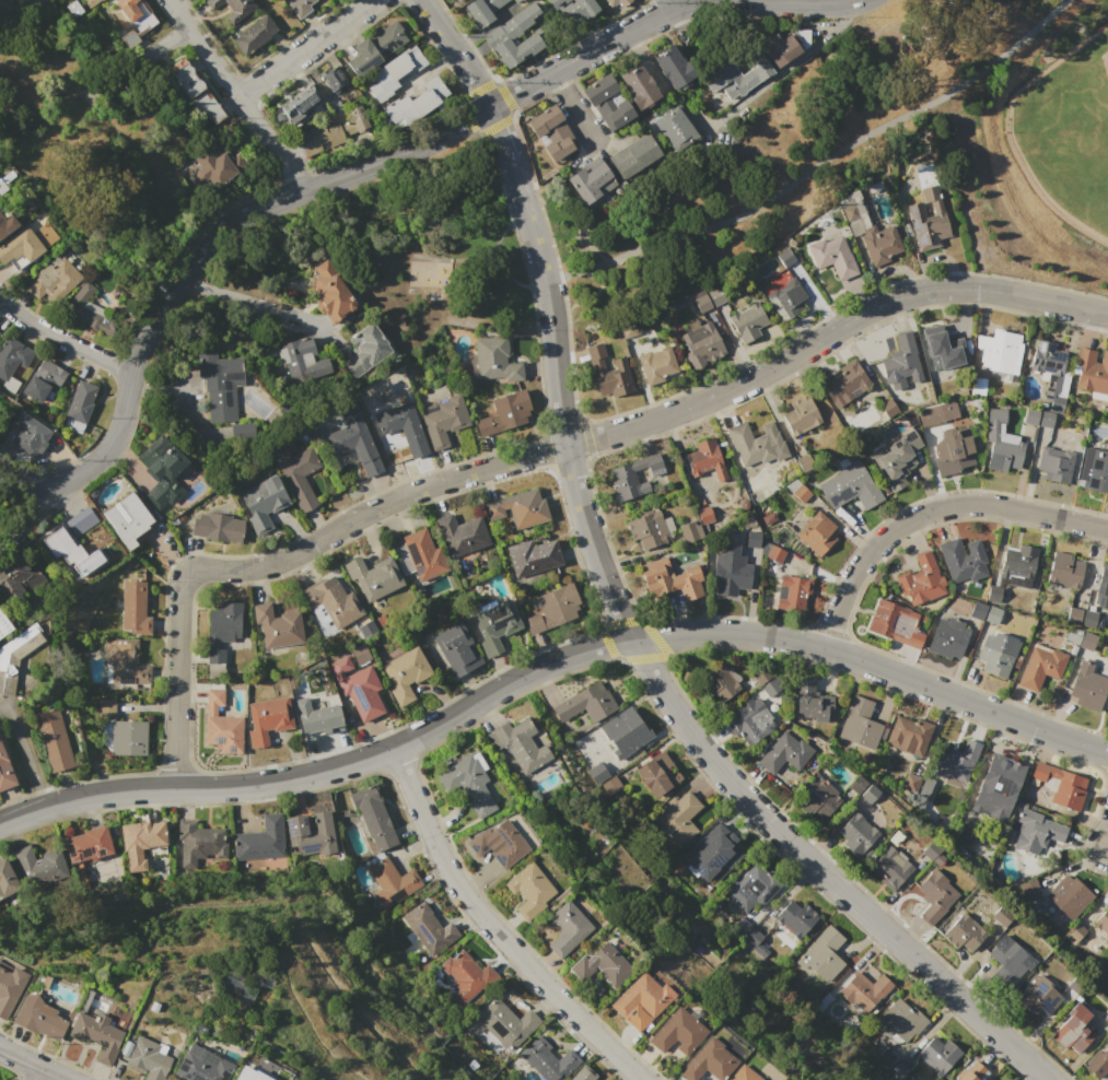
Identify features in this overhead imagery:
building: (454, 0)
building: (458, 0)
building: (516, 0)
building: (36, 1)
building: (91, 2)
building: (616, 2)
road: (673, 4)
building: (300, 7)
building: (232, 8)
building: (73, 9)
building: (574, 9)
building: (482, 10)
road: (663, 14)
building: (135, 19)
building: (500, 34)
building: (254, 35)
road: (305, 48)
building: (374, 48)
road: (455, 51)
road: (137, 61)
road: (50, 64)
road: (790, 64)
building: (765, 67)
building: (673, 68)
building: (394, 72)
building: (333, 77)
building: (186, 78)
building: (639, 85)
road: (235, 95)
building: (607, 102)
building: (300, 103)
building: (419, 103)
building: (207, 106)
road: (573, 110)
park: (736, 117)
building: (676, 128)
building: (552, 131)
building: (333, 132)
park: (1065, 134)
park: (93, 148)
road: (506, 152)
building: (633, 154)
building: (219, 165)
road: (824, 169)
building: (5, 180)
building: (592, 183)
building: (921, 186)
building: (5, 222)
building: (868, 226)
building: (26, 243)
park: (439, 244)
road: (194, 255)
building: (832, 256)
building: (785, 257)
building: (55, 281)
building: (331, 291)
building: (715, 296)
building: (785, 298)
building: (701, 301)
road: (258, 302)
building: (85, 310)
building: (747, 322)
building: (0, 333)
road: (62, 340)
building: (701, 343)
building: (365, 348)
building: (941, 348)
building: (1000, 353)
building: (495, 359)
building: (12, 360)
building: (900, 363)
building: (303, 364)
building: (656, 364)
building: (1051, 372)
building: (607, 373)
building: (1090, 374)
building: (44, 380)
building: (219, 383)
building: (844, 384)
building: (978, 387)
building: (80, 406)
building: (886, 408)
building: (936, 412)
building: (504, 413)
building: (801, 414)
building: (1030, 415)
building: (1047, 419)
building: (442, 420)
road: (651, 420)
building: (404, 426)
building: (243, 432)
building: (28, 436)
building: (355, 443)
building: (756, 443)
building: (1000, 443)
building: (953, 450)
building: (704, 459)
building: (898, 459)
building: (805, 462)
building: (1054, 463)
building: (1094, 471)
building: (161, 472)
building: (296, 474)
building: (632, 477)
building: (850, 485)
building: (798, 490)
road: (48, 503)
building: (263, 503)
building: (517, 509)
road: (930, 510)
building: (703, 514)
building: (127, 519)
building: (82, 520)
building: (218, 527)
building: (648, 529)
building: (689, 531)
building: (817, 532)
building: (460, 533)
building: (751, 539)
building: (58, 542)
building: (773, 552)
building: (422, 553)
building: (532, 553)
building: (961, 557)
building: (1018, 561)
building: (1065, 568)
building: (374, 573)
building: (15, 576)
building: (731, 577)
building: (668, 578)
building: (920, 580)
building: (1103, 586)
building: (792, 591)
building: (992, 592)
building: (329, 600)
building: (135, 603)
building: (558, 604)
building: (976, 610)
building: (992, 613)
building: (1073, 613)
building: (884, 617)
building: (1087, 619)
building: (223, 621)
building: (3, 622)
building: (532, 622)
building: (276, 623)
building: (497, 626)
building: (365, 627)
building: (1071, 635)
building: (915, 637)
building: (946, 638)
building: (1087, 641)
building: (20, 642)
building: (455, 647)
building: (358, 653)
building: (214, 655)
building: (993, 657)
building: (121, 660)
road: (550, 660)
building: (213, 669)
building: (1041, 669)
building: (407, 673)
road: (176, 677)
building: (718, 682)
building: (1087, 685)
building: (769, 686)
building: (363, 693)
building: (212, 695)
building: (813, 700)
road: (672, 703)
building: (105, 705)
building: (581, 706)
building: (316, 712)
building: (269, 720)
building: (862, 720)
building: (747, 726)
building: (627, 731)
building: (222, 732)
building: (907, 732)
building: (127, 737)
building: (53, 738)
building: (522, 744)
road: (25, 749)
building: (783, 755)
building: (954, 758)
building: (600, 768)
building: (1037, 770)
building: (4, 772)
building: (656, 773)
building: (610, 782)
building: (910, 782)
building: (854, 786)
building: (995, 786)
building: (466, 789)
building: (1068, 790)
building: (868, 794)
building: (818, 799)
building: (678, 815)
building: (371, 818)
building: (854, 833)
building: (1037, 833)
building: (308, 834)
building: (963, 835)
building: (256, 837)
road: (1104, 838)
building: (198, 841)
building: (506, 841)
building: (86, 842)
building: (142, 842)
building: (477, 843)
building: (930, 850)
building: (719, 852)
building: (36, 860)
building: (273, 861)
building: (679, 861)
building: (889, 867)
building: (5, 879)
building: (395, 879)
building: (750, 884)
building: (1028, 888)
building: (526, 892)
building: (935, 895)
building: (1068, 895)
building: (793, 915)
building: (1001, 916)
building: (1103, 921)
building: (565, 928)
road: (491, 929)
building: (429, 930)
building: (1076, 930)
building: (963, 934)
building: (821, 958)
building: (1007, 962)
building: (599, 965)
building: (467, 976)
building: (62, 981)
building: (9, 987)
building: (237, 989)
building: (865, 989)
building: (1038, 997)
building: (639, 998)
building: (39, 1018)
building: (1105, 1019)
building: (902, 1021)
building: (505, 1023)
building: (1073, 1030)
building: (676, 1033)
building: (95, 1034)
building: (938, 1054)
building: (145, 1059)
building: (547, 1060)
building: (707, 1061)
building: (1098, 1061)
road: (32, 1065)
building: (205, 1069)
building: (900, 1071)
building: (975, 1073)
building: (742, 1075)
road: (43, 1076)
building: (582, 1076)
building: (235, 1078)

